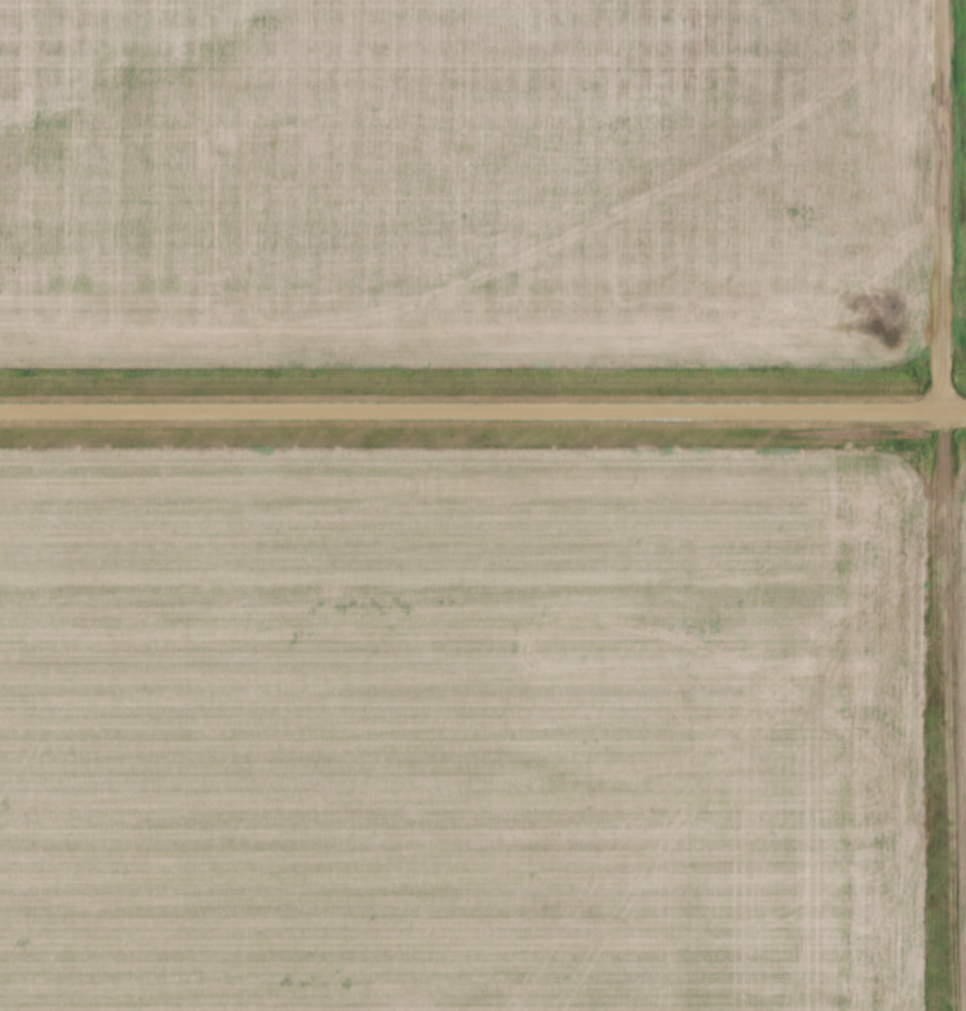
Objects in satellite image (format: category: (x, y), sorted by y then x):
road: (947, 206)
road: (483, 412)
road: (950, 711)

